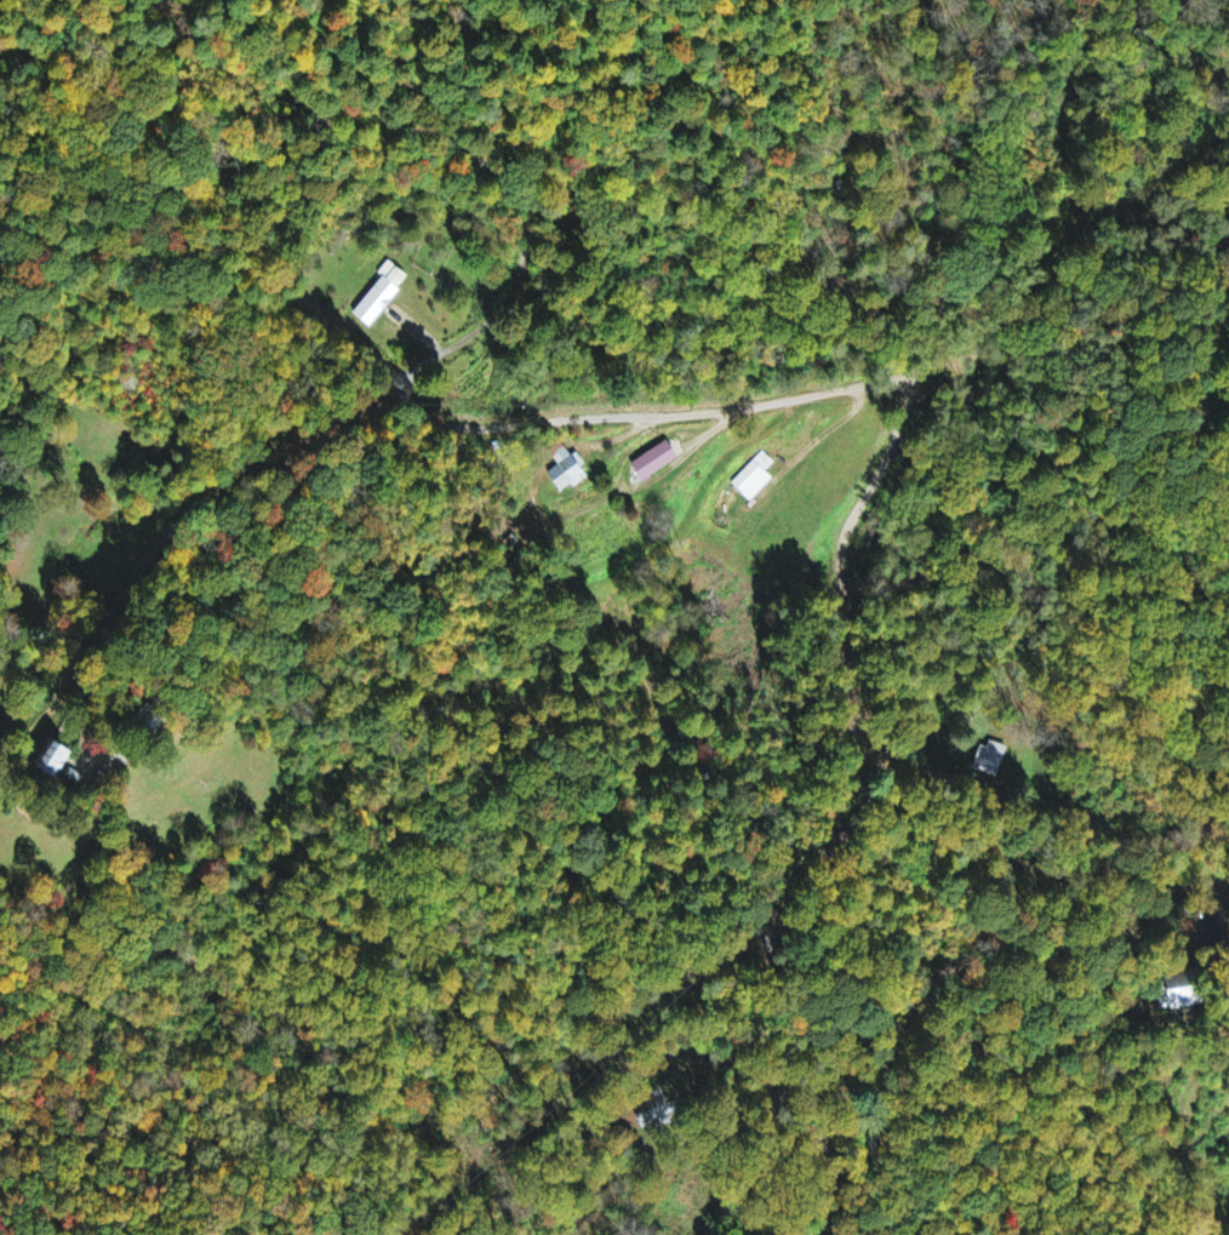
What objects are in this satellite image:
road: (452, 136)
building: (382, 295)
building: (657, 461)
road: (235, 463)
building: (568, 475)
building: (754, 478)
road: (839, 571)
building: (53, 759)
road: (829, 1156)
road: (612, 1234)

